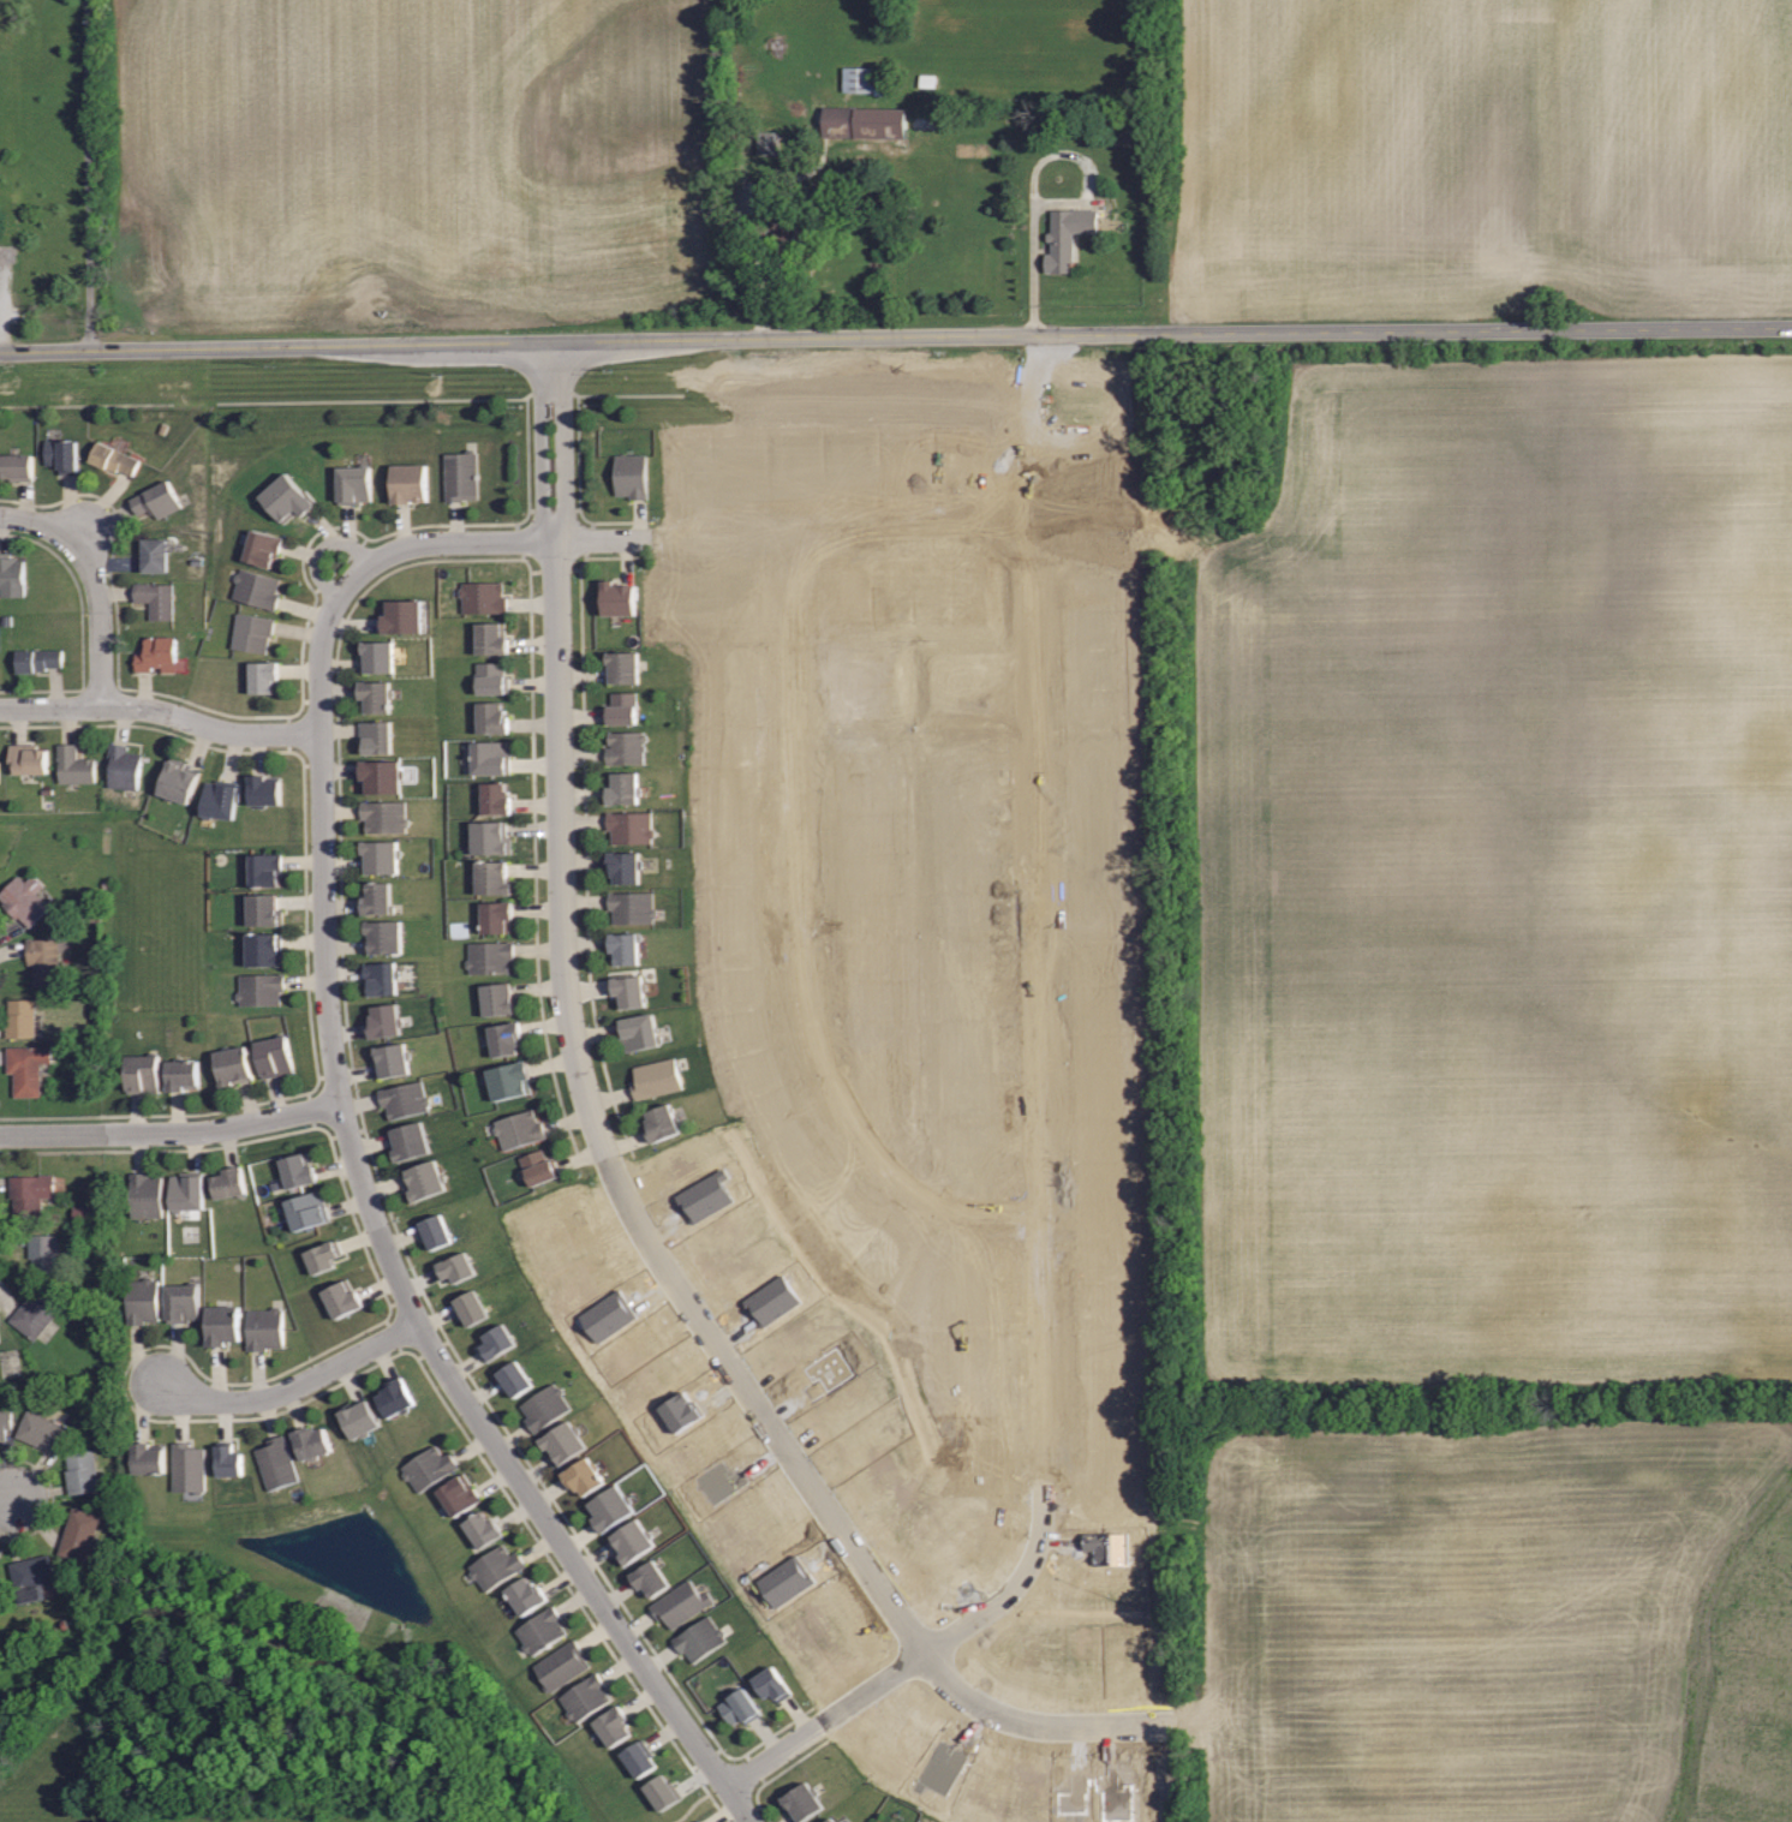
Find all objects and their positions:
building: (861, 80)
building: (872, 121)
crop: (1482, 155)
crop: (413, 157)
road: (89, 175)
building: (777, 226)
building: (1065, 237)
road: (895, 337)
building: (61, 455)
building: (113, 458)
building: (17, 465)
building: (461, 476)
building: (631, 476)
building: (411, 483)
building: (351, 484)
building: (283, 497)
building: (156, 500)
road: (1023, 532)
road: (670, 539)
building: (261, 548)
road: (323, 549)
building: (155, 555)
building: (11, 577)
road: (94, 583)
building: (257, 590)
building: (480, 597)
building: (156, 599)
building: (616, 599)
building: (404, 616)
building: (250, 632)
building: (490, 638)
building: (156, 653)
building: (380, 656)
building: (36, 659)
building: (621, 667)
building: (264, 675)
building: (491, 677)
building: (376, 695)
road: (49, 707)
building: (621, 707)
building: (492, 718)
road: (208, 729)
building: (376, 736)
building: (623, 747)
road: (558, 752)
building: (489, 757)
building: (26, 758)
building: (74, 765)
building: (124, 769)
building: (0, 773)
building: (382, 776)
building: (178, 781)
building: (625, 788)
building: (264, 789)
building: (220, 798)
building: (492, 798)
building: (382, 816)
building: (628, 826)
building: (490, 837)
building: (381, 856)
building: (622, 866)
building: (265, 871)
crop: (1503, 877)
building: (492, 878)
building: (378, 897)
building: (24, 898)
building: (632, 908)
building: (265, 910)
building: (496, 915)
building: (384, 937)
building: (622, 946)
road: (802, 946)
building: (264, 949)
building: (491, 957)
building: (43, 960)
building: (381, 976)
building: (261, 988)
building: (628, 990)
building: (495, 1000)
building: (20, 1017)
building: (387, 1021)
building: (638, 1031)
building: (507, 1038)
building: (275, 1056)
building: (393, 1059)
building: (234, 1064)
building: (26, 1067)
building: (142, 1074)
building: (183, 1075)
building: (655, 1077)
building: (508, 1080)
building: (405, 1099)
road: (1038, 1121)
building: (659, 1123)
building: (518, 1129)
road: (171, 1134)
building: (408, 1140)
building: (539, 1166)
building: (298, 1171)
building: (425, 1179)
building: (229, 1183)
building: (189, 1191)
building: (30, 1194)
building: (147, 1196)
building: (310, 1209)
building: (434, 1231)
building: (43, 1253)
building: (323, 1255)
building: (456, 1266)
building: (344, 1300)
building: (143, 1301)
building: (181, 1303)
building: (470, 1304)
building: (36, 1314)
road: (412, 1322)
building: (225, 1325)
building: (263, 1328)
building: (0, 1337)
building: (495, 1343)
building: (830, 1372)
building: (512, 1379)
road: (288, 1391)
building: (398, 1397)
building: (545, 1408)
building: (358, 1420)
building: (5, 1422)
building: (42, 1432)
building: (315, 1442)
building: (566, 1442)
road: (792, 1453)
building: (149, 1458)
building: (228, 1460)
building: (277, 1463)
building: (189, 1466)
building: (430, 1468)
building: (80, 1471)
building: (585, 1476)
building: (725, 1480)
building: (459, 1494)
road: (7, 1498)
building: (611, 1506)
building: (483, 1528)
building: (78, 1533)
building: (633, 1539)
building: (496, 1564)
building: (651, 1576)
building: (31, 1577)
building: (792, 1581)
building: (528, 1595)
building: (682, 1602)
crop: (1499, 1625)
building: (542, 1629)
building: (701, 1638)
building: (806, 1656)
building: (565, 1666)
building: (770, 1686)
building: (586, 1695)
building: (741, 1707)
road: (1025, 1720)
building: (614, 1724)
road: (773, 1755)
building: (638, 1760)
building: (662, 1790)
building: (804, 1802)
building: (829, 1820)
building: (834, 1820)
crop: (426, 1821)
building: (697, 1821)
building: (701, 1821)

